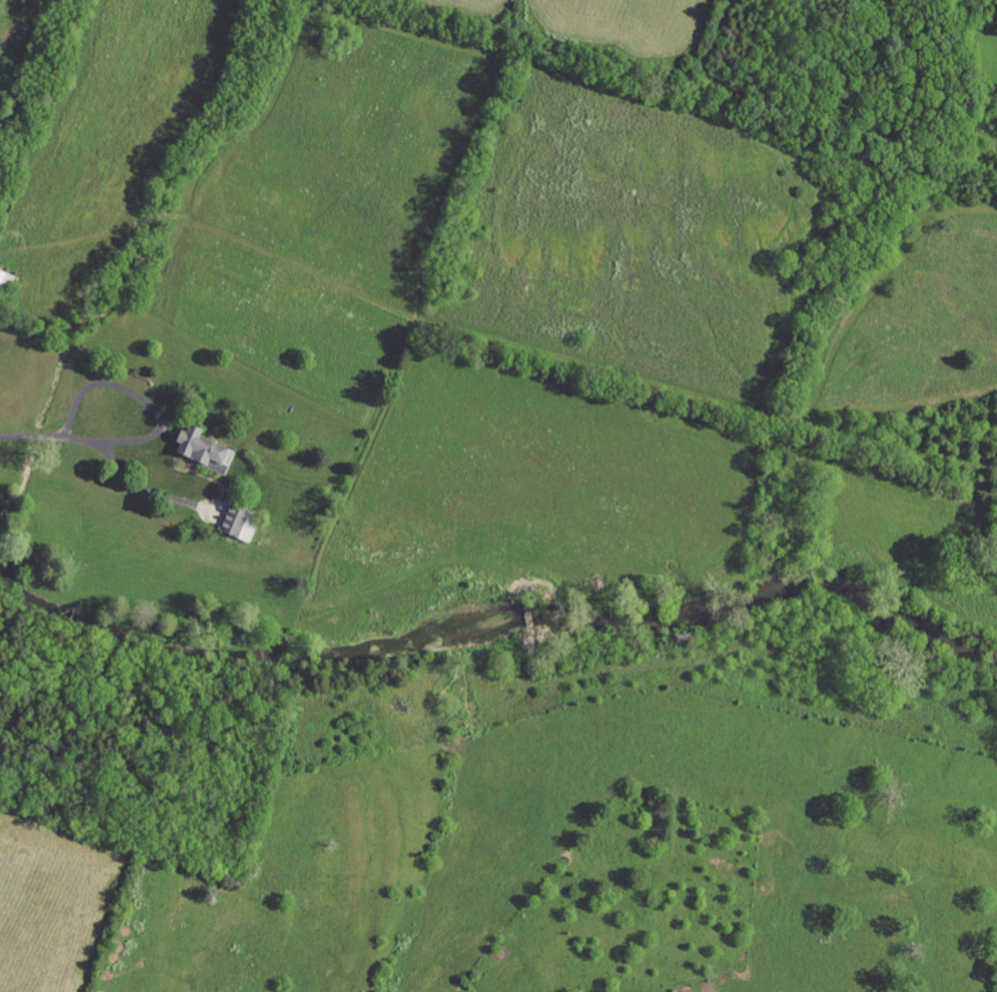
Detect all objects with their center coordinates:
building: (6, 280)
road: (150, 405)
road: (33, 438)
building: (201, 451)

